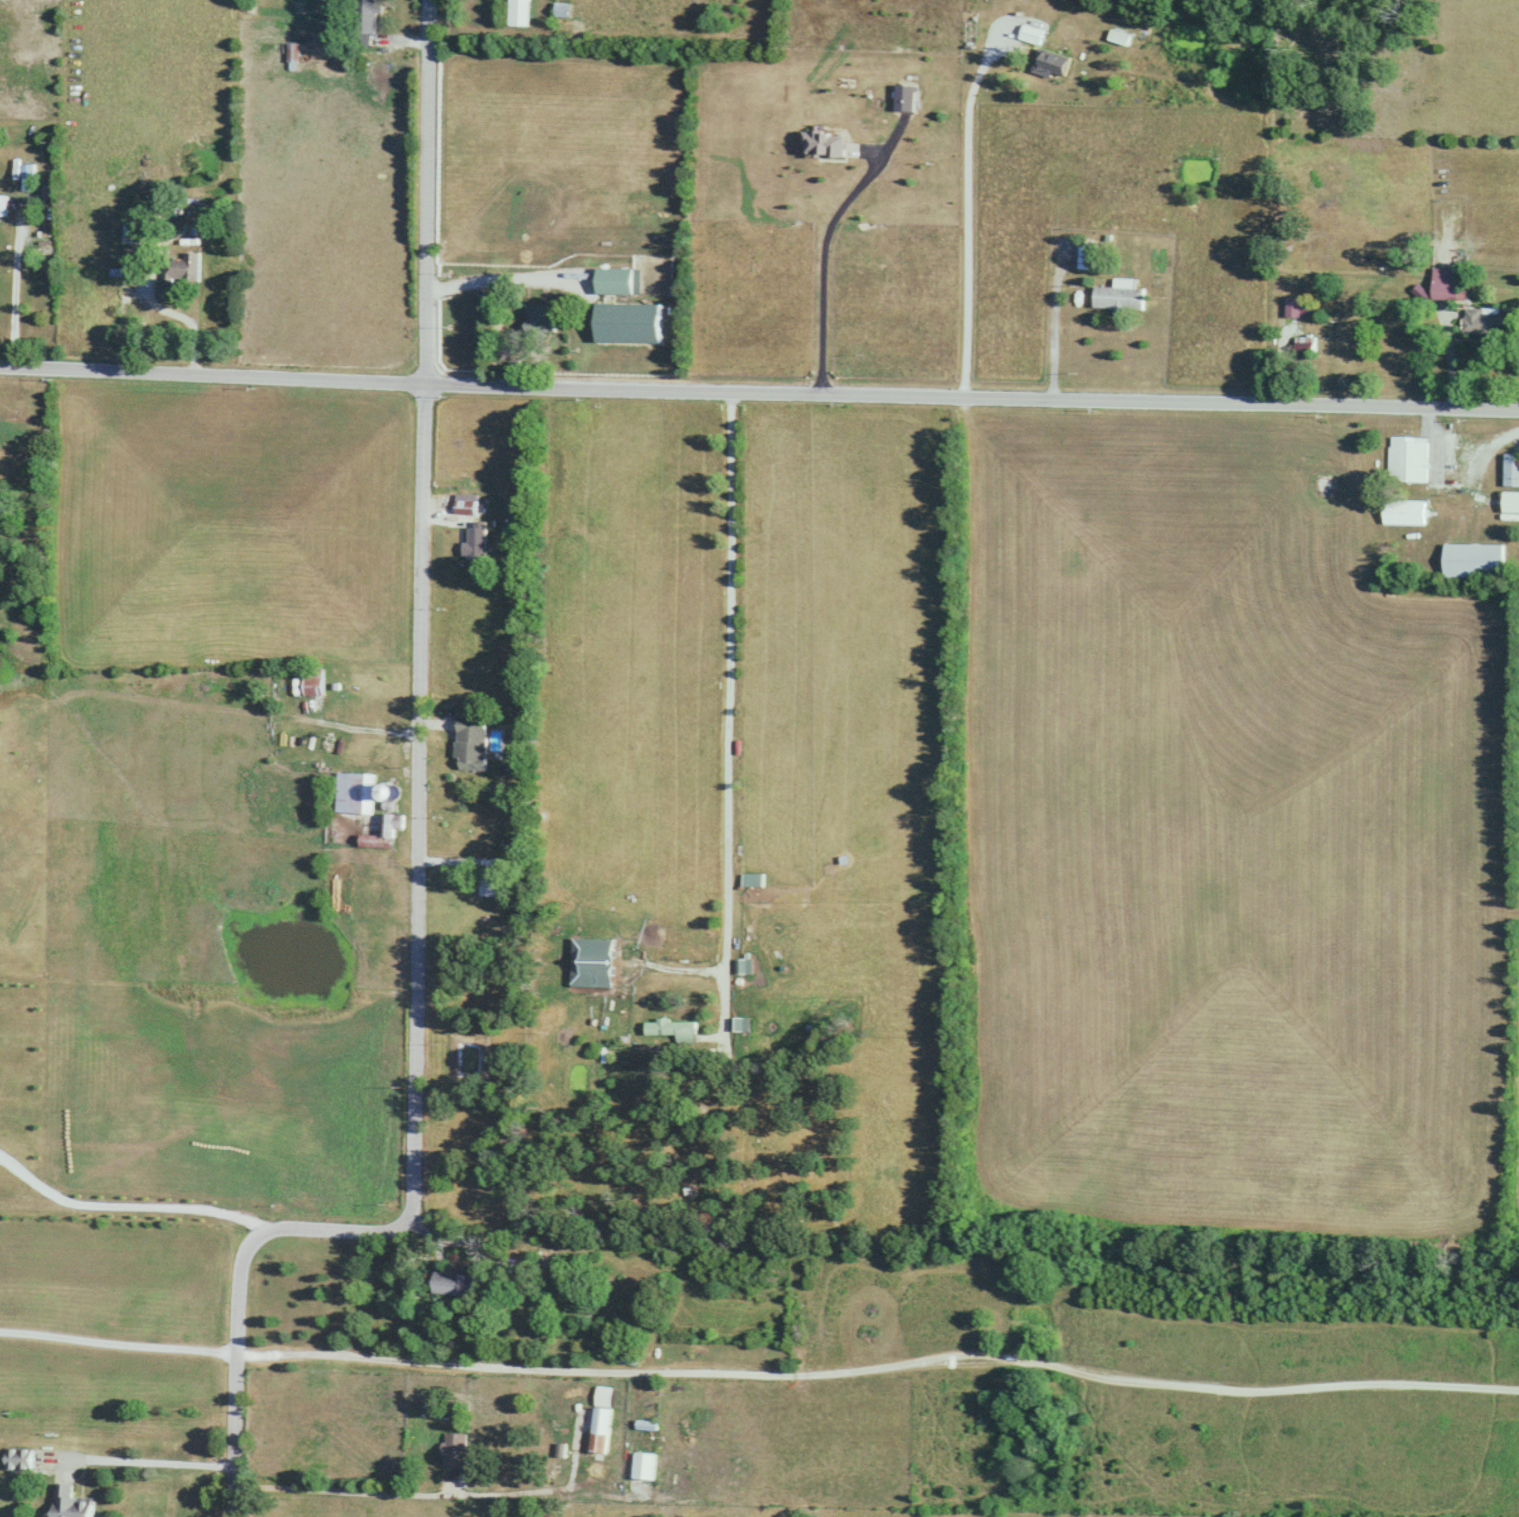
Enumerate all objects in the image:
building: (522, 12)
building: (368, 22)
road: (466, 23)
building: (1032, 33)
building: (295, 54)
building: (1054, 63)
building: (4, 205)
road: (966, 210)
building: (135, 231)
building: (1088, 256)
road: (822, 262)
building: (179, 272)
building: (619, 281)
building: (1446, 283)
building: (1120, 296)
road: (13, 300)
building: (1293, 306)
building: (1487, 321)
building: (540, 322)
building: (1305, 345)
road: (759, 390)
building: (14, 427)
building: (1407, 459)
building: (1510, 471)
park: (1322, 485)
building: (467, 507)
building: (1405, 512)
building: (478, 543)
building: (1472, 561)
building: (313, 681)
road: (730, 694)
building: (473, 742)
building: (393, 790)
building: (354, 792)
road: (417, 831)
building: (384, 832)
building: (488, 883)
building: (593, 955)
building: (674, 1028)
road: (126, 1204)
building: (458, 1284)
road: (117, 1341)
building: (628, 1358)
road: (878, 1365)
building: (603, 1419)
building: (647, 1425)
building: (456, 1449)
building: (21, 1459)
road: (137, 1460)
building: (643, 1467)
road: (349, 1491)
building: (74, 1502)

